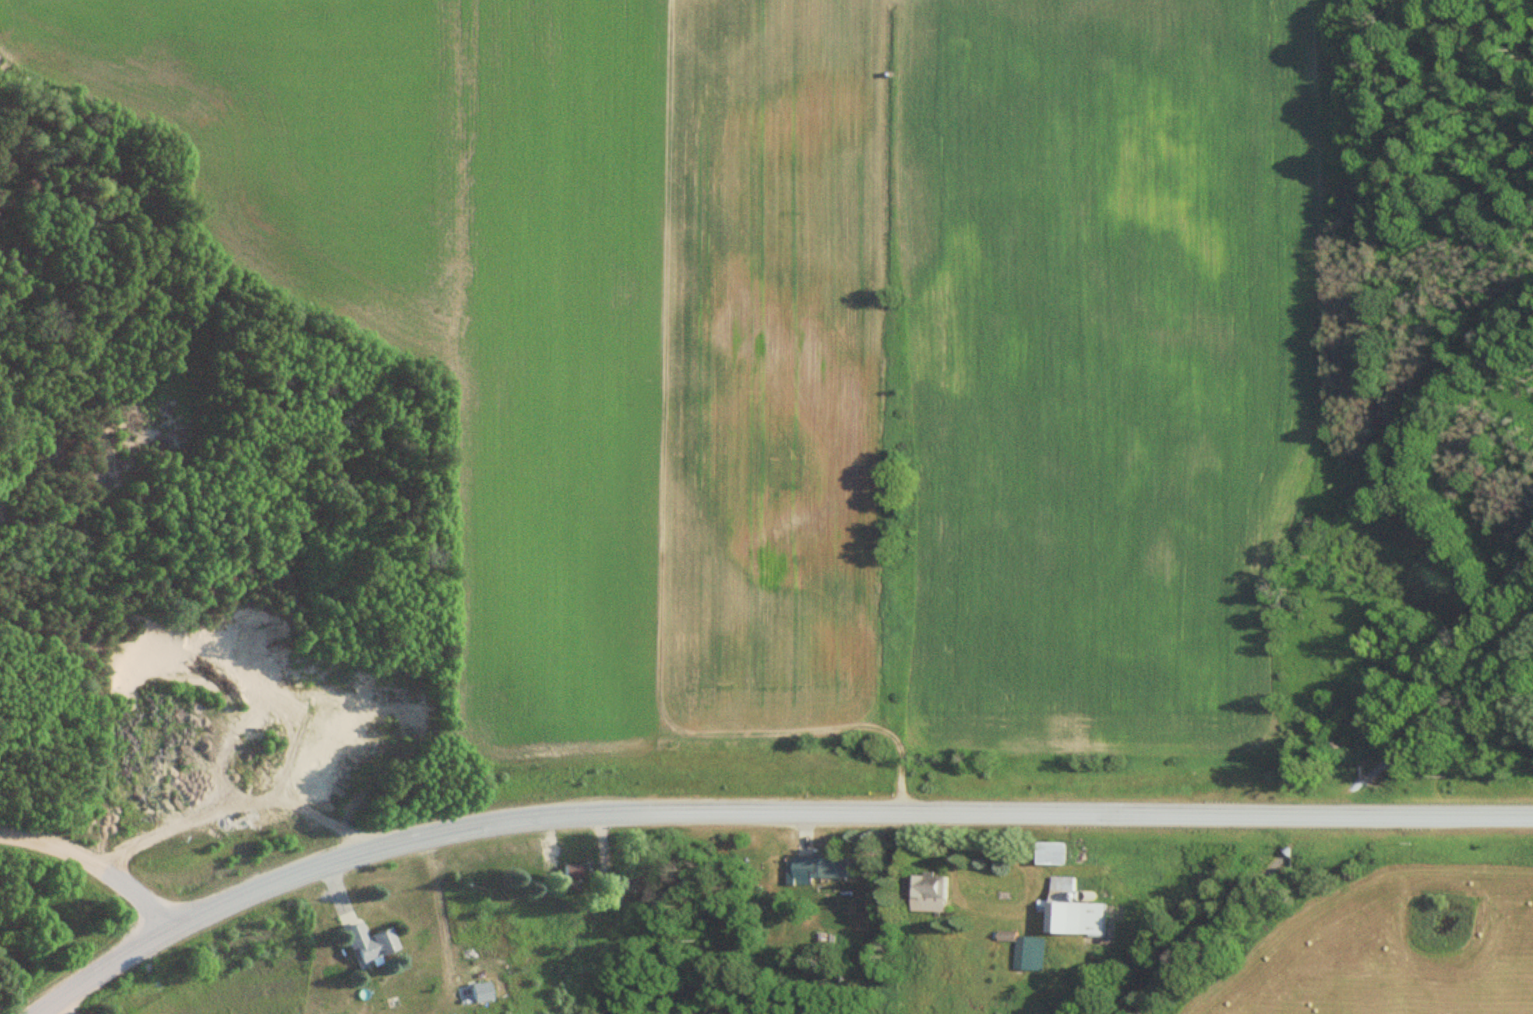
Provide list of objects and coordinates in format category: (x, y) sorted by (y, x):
road: (1448, 703)
road: (839, 812)
building: (1056, 852)
road: (93, 863)
building: (830, 869)
building: (571, 871)
building: (634, 880)
building: (935, 891)
building: (1077, 909)
road: (1204, 934)
building: (373, 943)
building: (1033, 952)
road: (97, 969)

